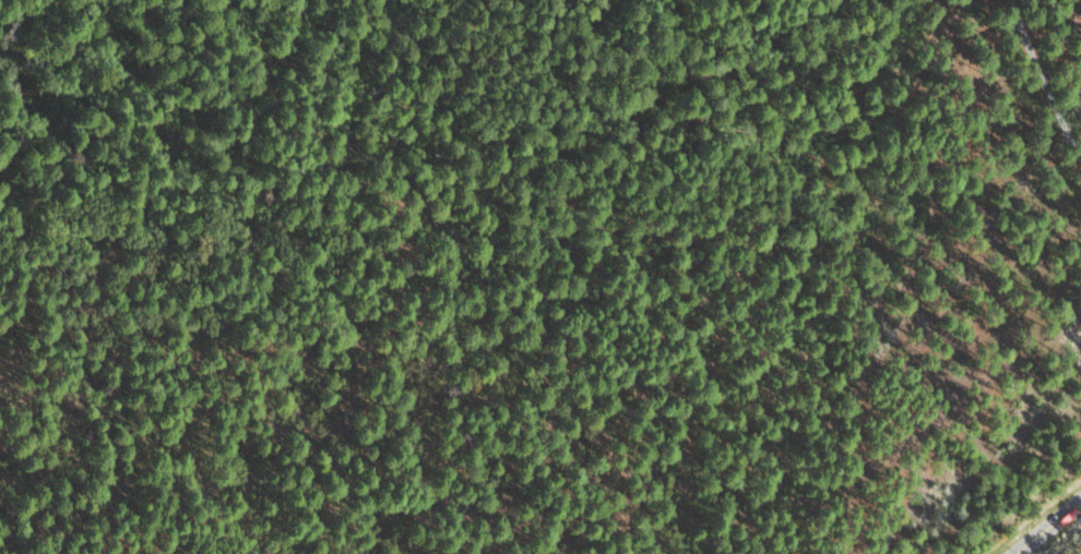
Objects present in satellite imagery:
road: (1046, 86)
road: (1041, 522)

